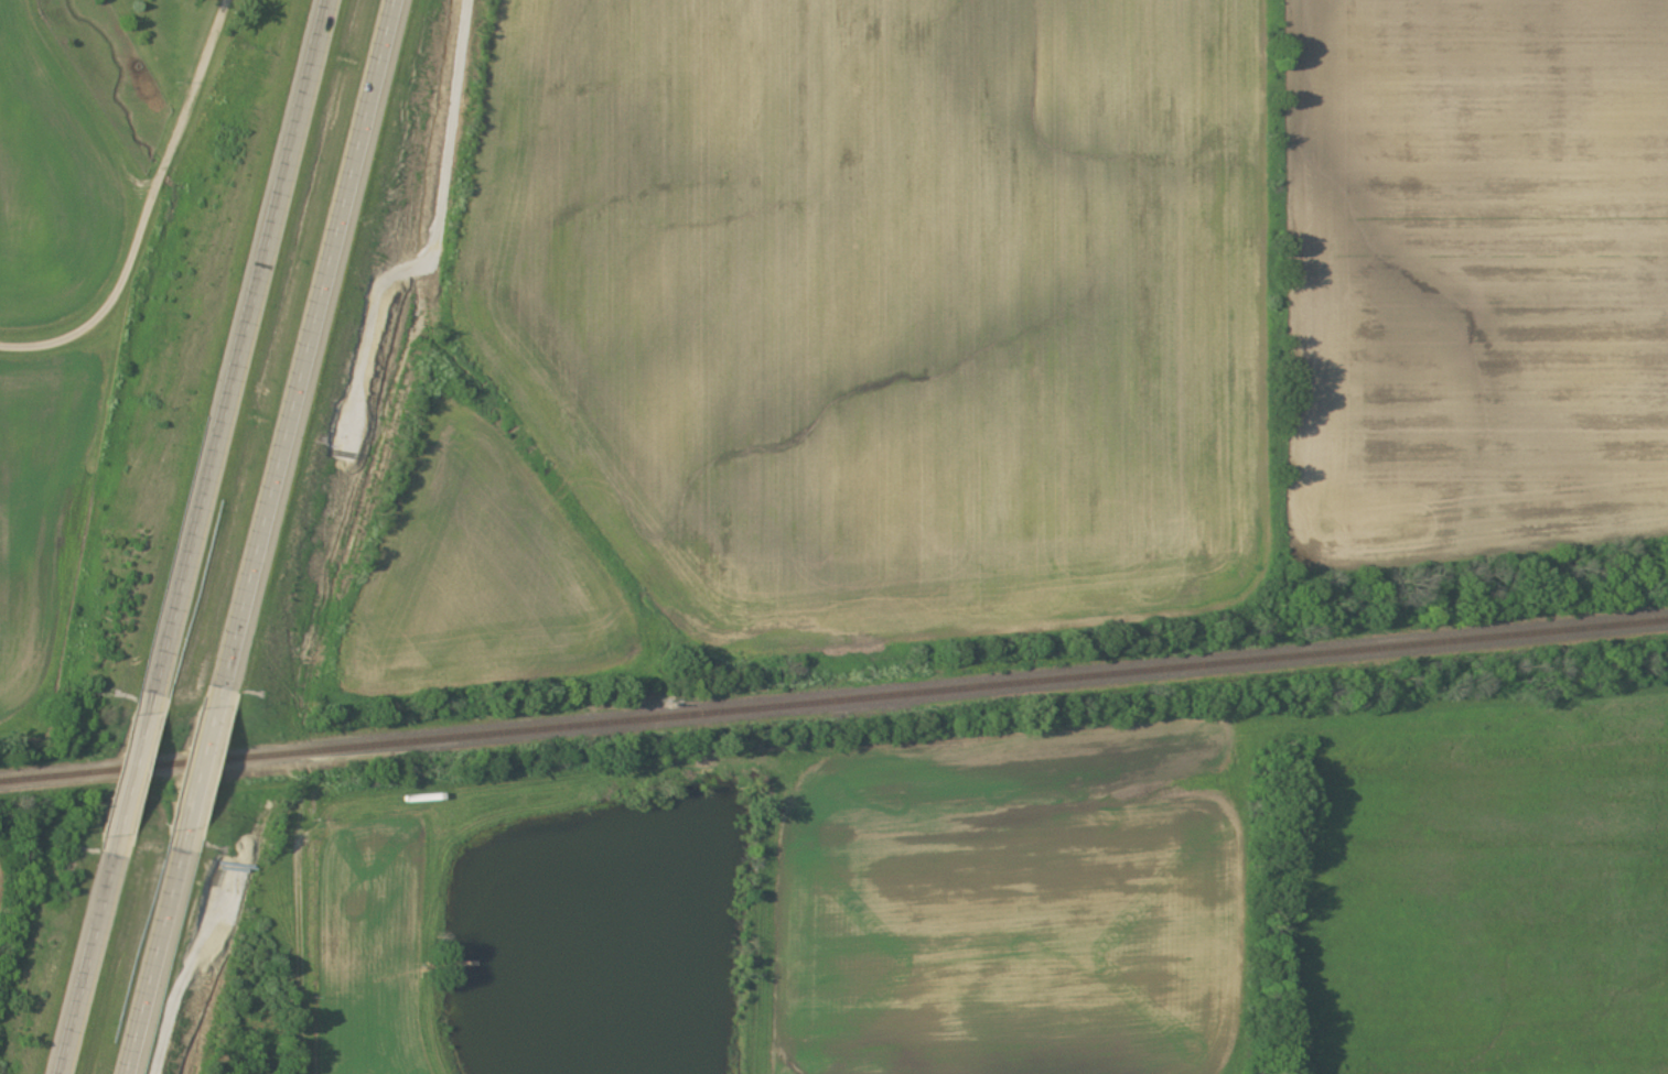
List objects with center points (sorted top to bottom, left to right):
road: (148, 210)
road: (304, 339)
road: (235, 343)
railway: (833, 701)
road: (202, 759)
road: (134, 766)
road: (152, 956)
road: (85, 959)

